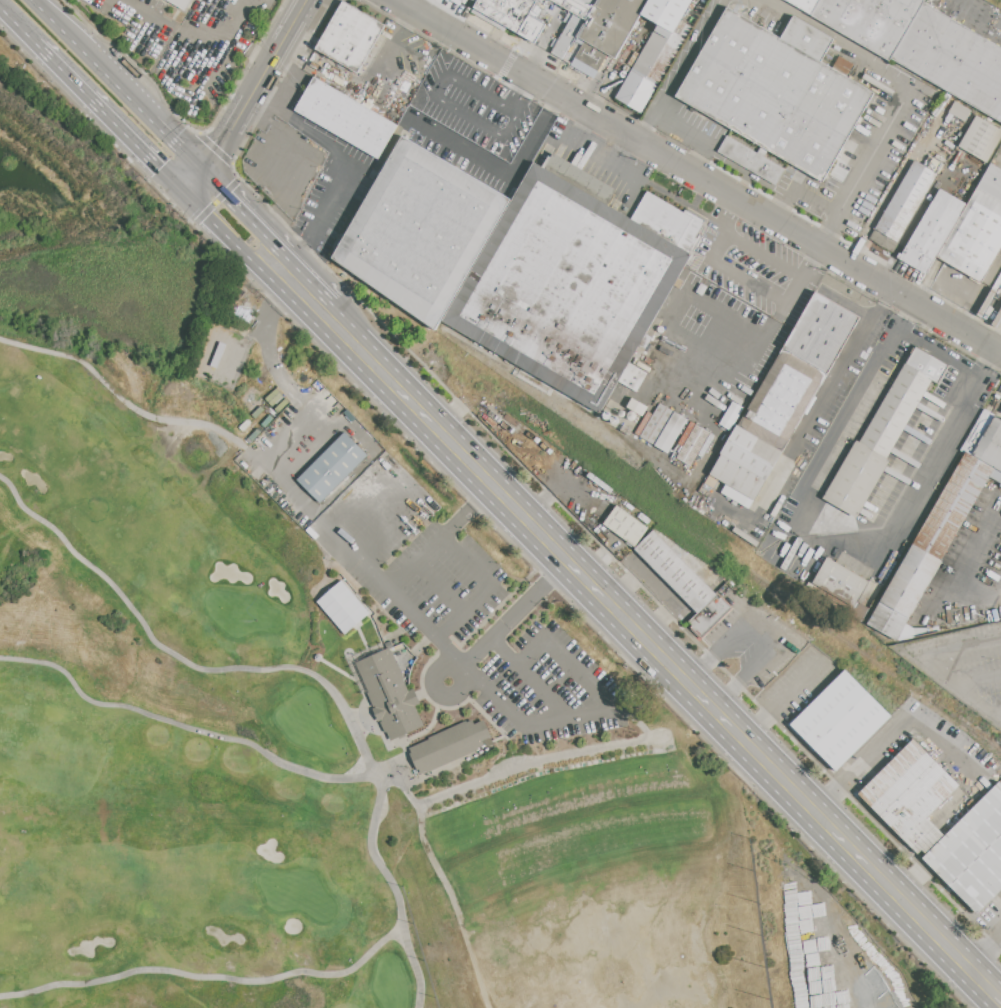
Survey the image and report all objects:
building: (455, 0)
building: (463, 1)
building: (476, 1)
building: (590, 2)
road: (965, 2)
building: (180, 3)
building: (805, 5)
building: (575, 7)
road: (46, 10)
building: (666, 12)
building: (513, 15)
road: (152, 19)
building: (870, 21)
building: (611, 23)
road: (18, 26)
building: (682, 29)
building: (567, 35)
building: (350, 36)
road: (839, 37)
building: (658, 54)
building: (953, 58)
road: (380, 64)
road: (104, 68)
road: (678, 71)
road: (502, 78)
road: (255, 84)
building: (636, 92)
road: (190, 93)
road: (517, 93)
building: (774, 95)
road: (443, 100)
building: (960, 112)
road: (110, 116)
building: (346, 117)
road: (607, 125)
road: (198, 134)
building: (981, 138)
road: (178, 143)
road: (693, 158)
road: (863, 168)
traffic signals: (205, 169)
road: (748, 172)
road: (343, 174)
road: (505, 174)
building: (580, 178)
road: (194, 180)
road: (238, 182)
road: (744, 187)
traffic signals: (184, 191)
building: (905, 201)
road: (779, 207)
road: (729, 216)
building: (667, 222)
building: (421, 230)
building: (932, 232)
road: (267, 234)
building: (975, 235)
road: (233, 239)
road: (762, 255)
road: (812, 264)
road: (737, 273)
building: (566, 286)
road: (796, 290)
road: (684, 295)
road: (294, 300)
road: (911, 302)
road: (330, 309)
road: (317, 315)
road: (722, 332)
road: (269, 355)
building: (800, 369)
building: (631, 377)
road: (118, 396)
railway: (500, 400)
railway: (602, 424)
building: (663, 428)
road: (805, 430)
building: (883, 432)
road: (285, 438)
building: (692, 444)
building: (991, 447)
railway: (581, 457)
road: (369, 460)
building: (746, 461)
building: (333, 466)
road: (800, 519)
building: (625, 526)
road: (390, 527)
road: (334, 528)
building: (930, 546)
building: (841, 582)
building: (684, 584)
road: (982, 594)
road: (476, 600)
building: (344, 607)
parking lot: (467, 611)
road: (508, 619)
road: (451, 626)
road: (763, 635)
road: (960, 646)
railway: (866, 653)
road: (667, 656)
road: (180, 658)
road: (531, 676)
road: (979, 680)
road: (483, 681)
park: (323, 685)
road: (960, 687)
building: (388, 690)
road: (783, 698)
road: (996, 713)
building: (840, 721)
road: (182, 725)
railway: (965, 730)
road: (890, 733)
railway: (987, 738)
building: (447, 745)
building: (911, 794)
building: (972, 852)
park: (592, 888)
road: (392, 890)
road: (983, 947)
road: (204, 975)

